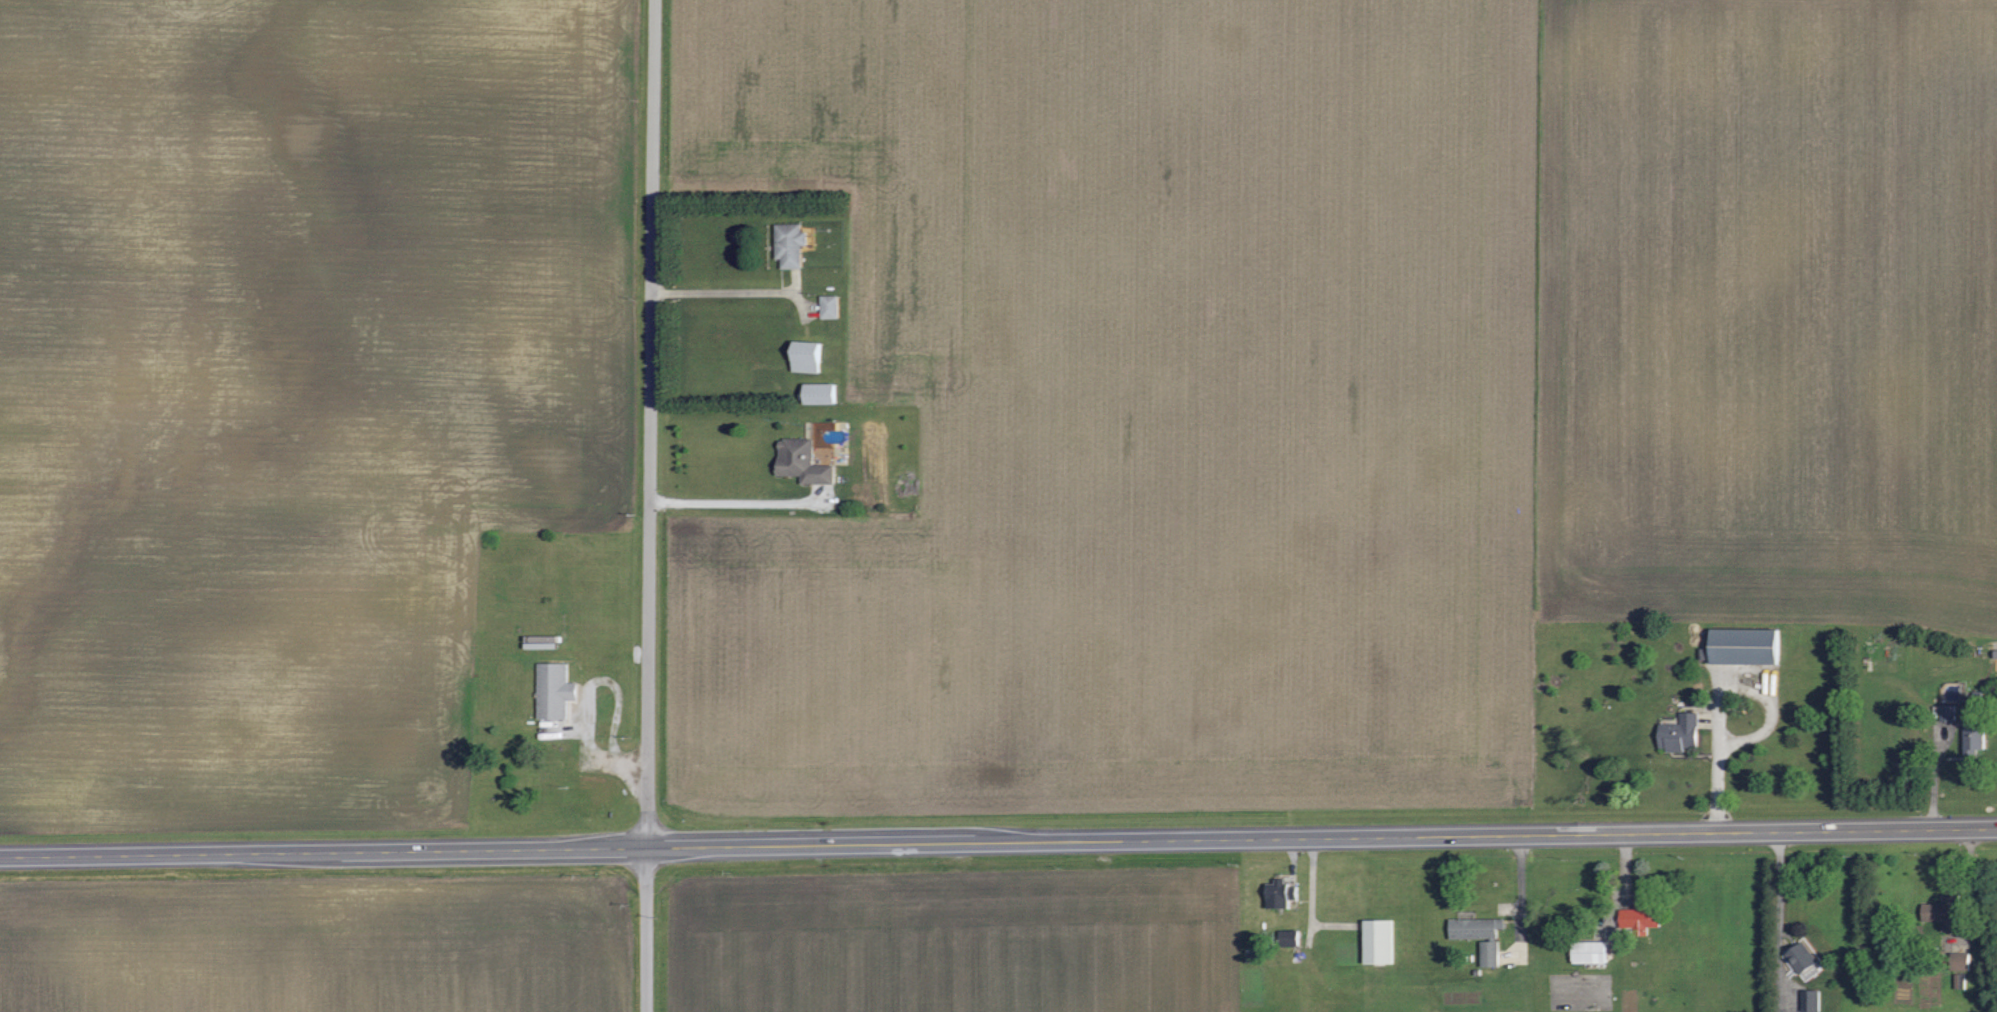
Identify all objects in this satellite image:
building: (787, 244)
building: (828, 306)
building: (809, 355)
building: (817, 392)
building: (799, 461)
road: (651, 506)
building: (1740, 645)
building: (552, 690)
building: (1946, 712)
building: (1677, 732)
building: (1971, 737)
road: (998, 842)
building: (1274, 893)
building: (1936, 913)
building: (1637, 918)
building: (1477, 935)
building: (1286, 937)
building: (1376, 941)
building: (1587, 951)
building: (1802, 960)
building: (1957, 960)
building: (1808, 1000)

